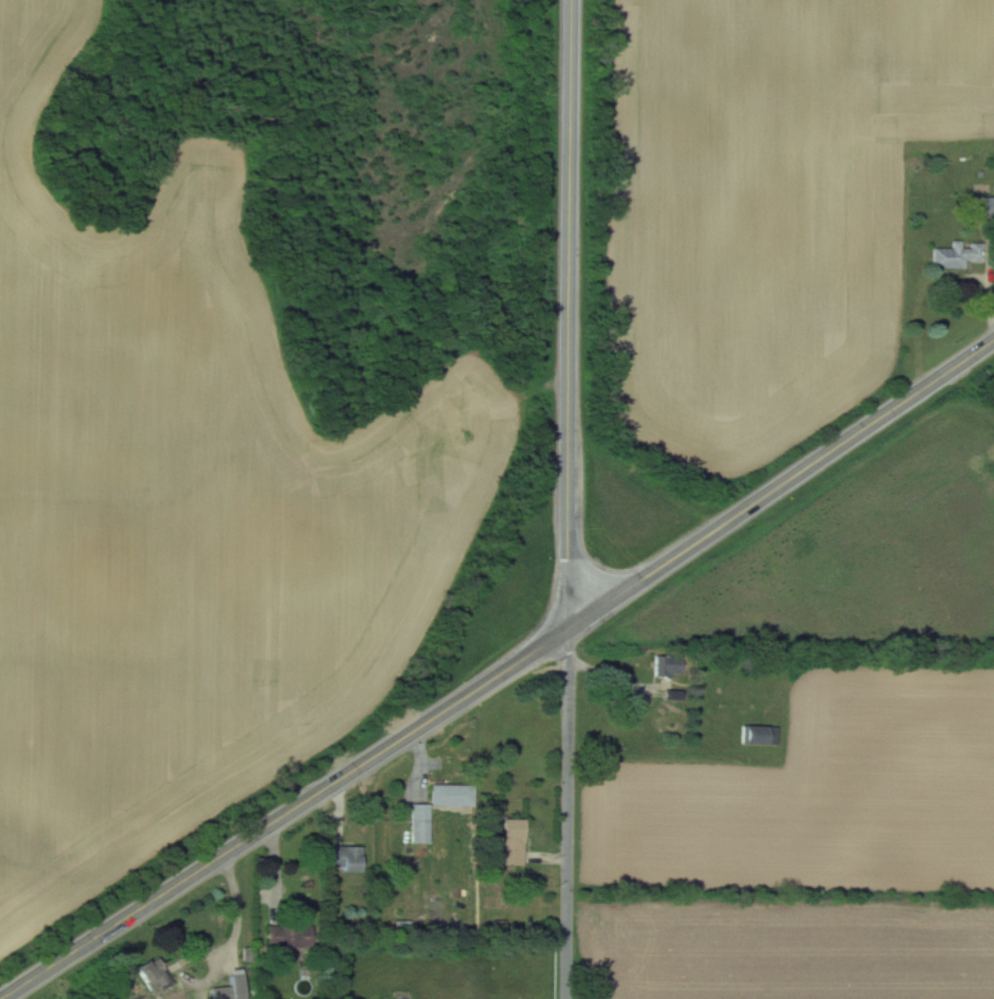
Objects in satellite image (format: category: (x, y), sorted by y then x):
building: (981, 205)
building: (955, 254)
road: (569, 314)
building: (667, 665)
road: (500, 673)
building: (758, 733)
building: (451, 794)
road: (567, 814)
building: (419, 822)
building: (511, 840)
building: (346, 858)
building: (287, 935)
building: (149, 973)

